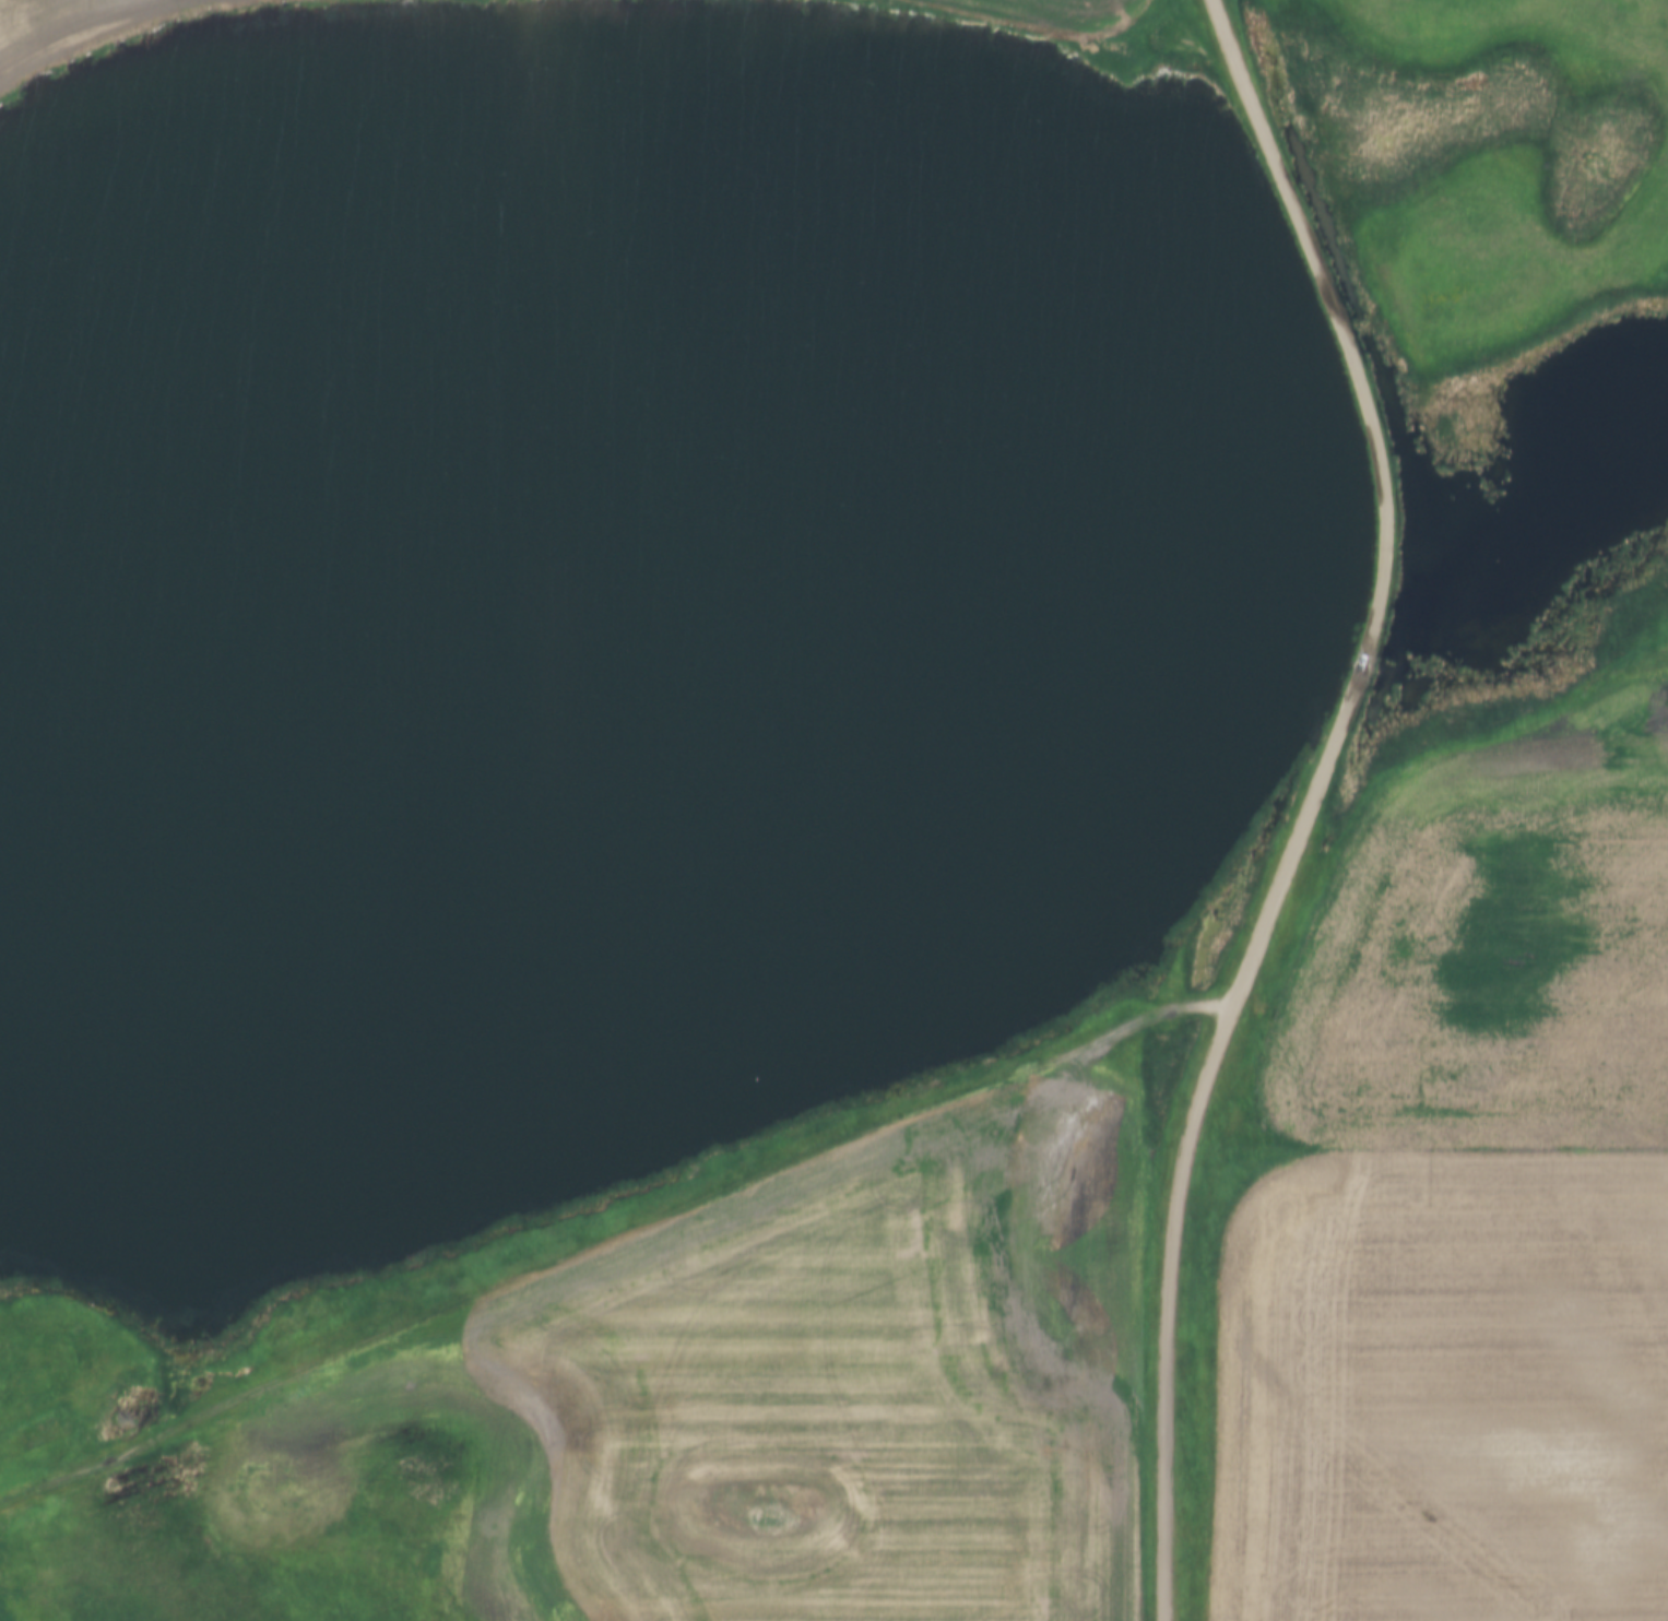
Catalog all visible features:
road: (1306, 801)
road: (610, 1235)

